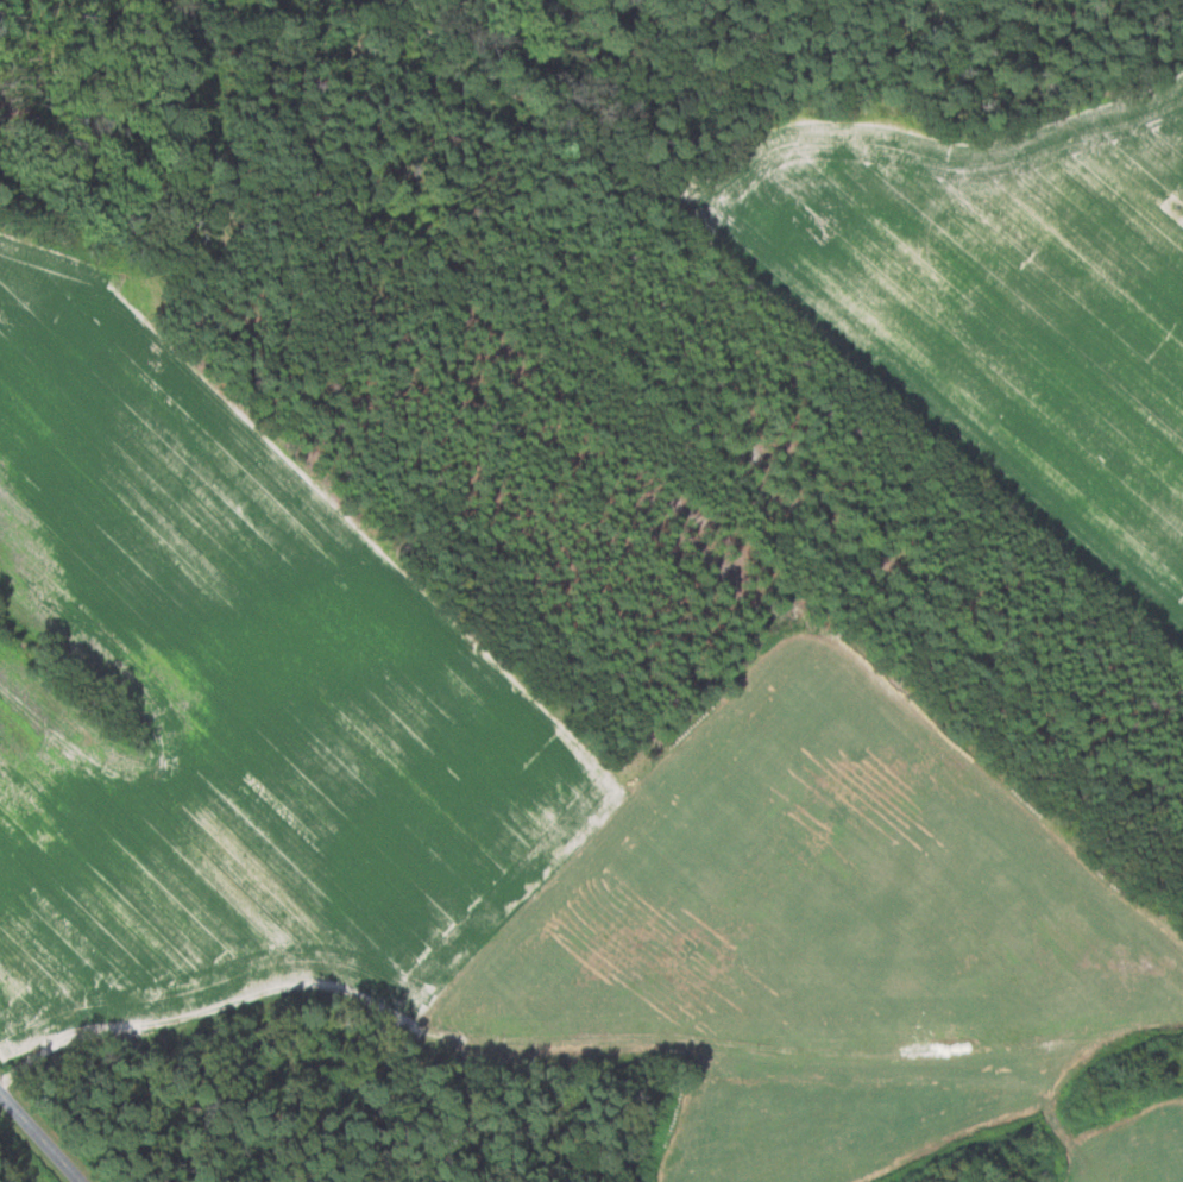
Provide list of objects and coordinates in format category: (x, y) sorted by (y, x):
road: (38, 1138)

